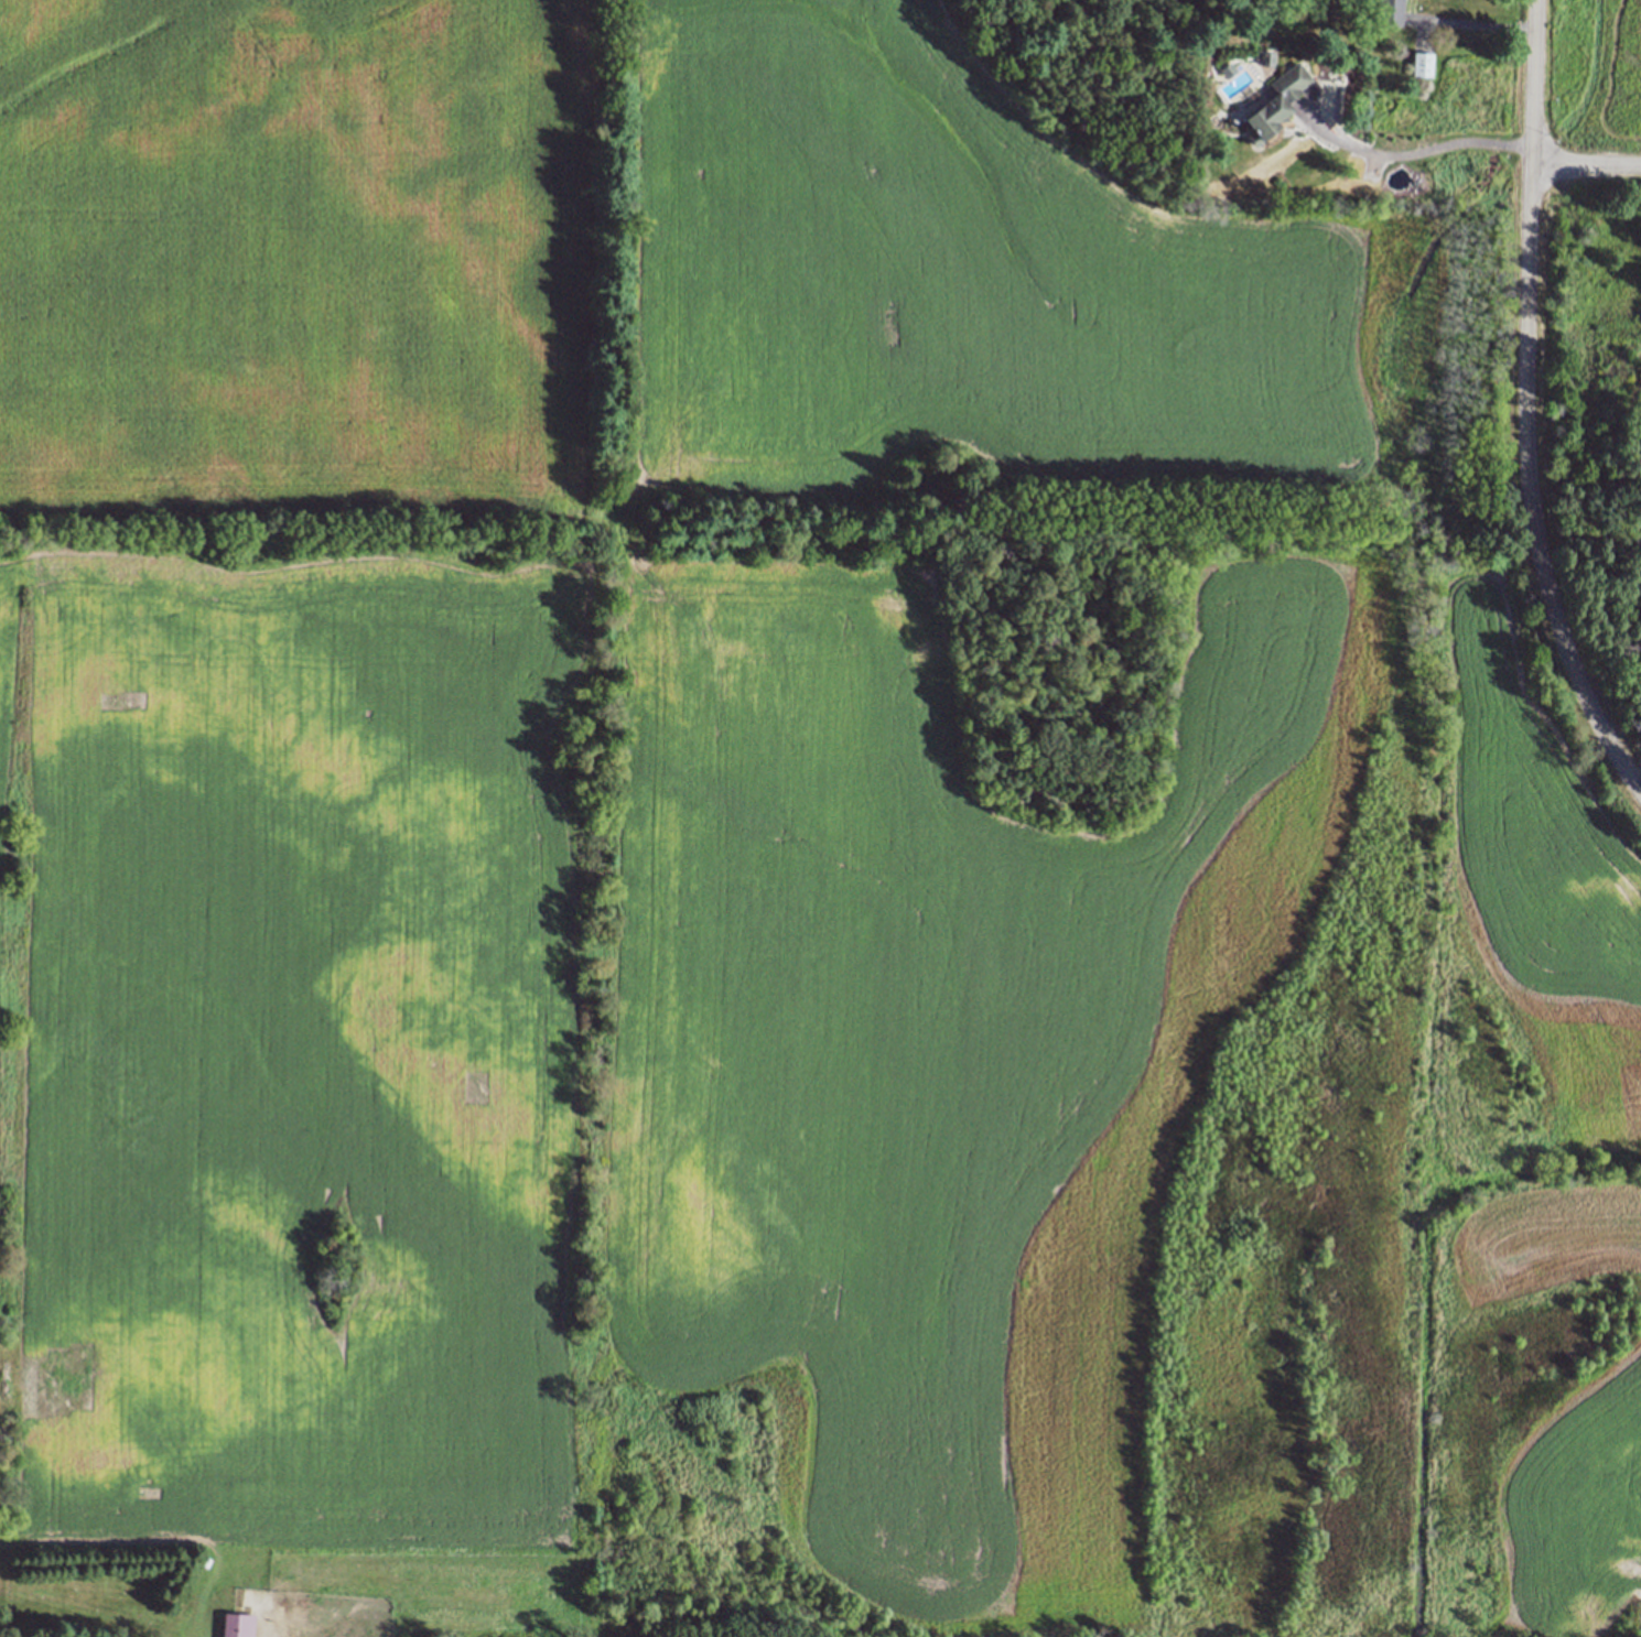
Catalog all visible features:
building: (1389, 12)
road: (1475, 25)
building: (1421, 63)
building: (1275, 107)
road: (1410, 155)
road: (1586, 164)
road: (1526, 406)
building: (238, 1625)

